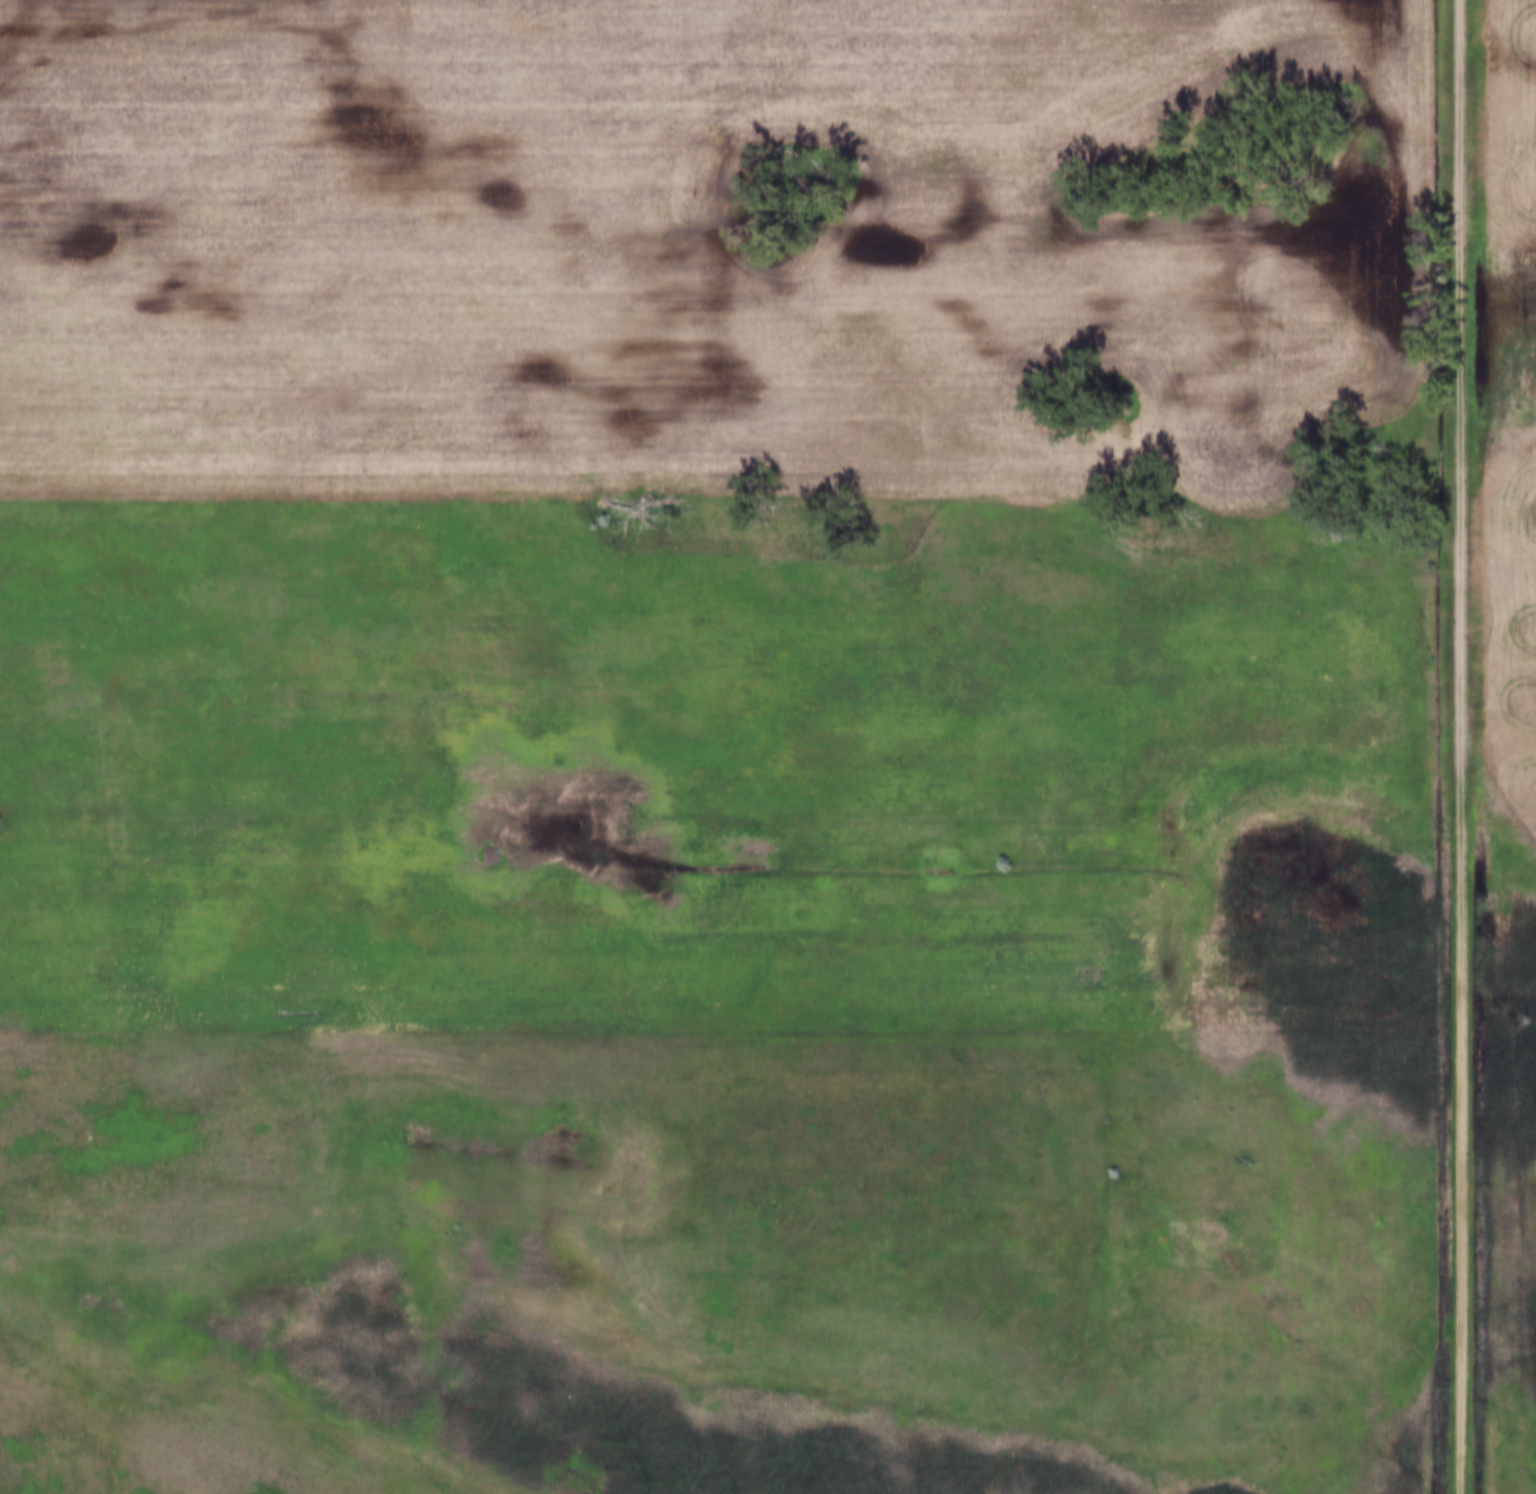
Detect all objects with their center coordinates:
road: (1460, 747)

